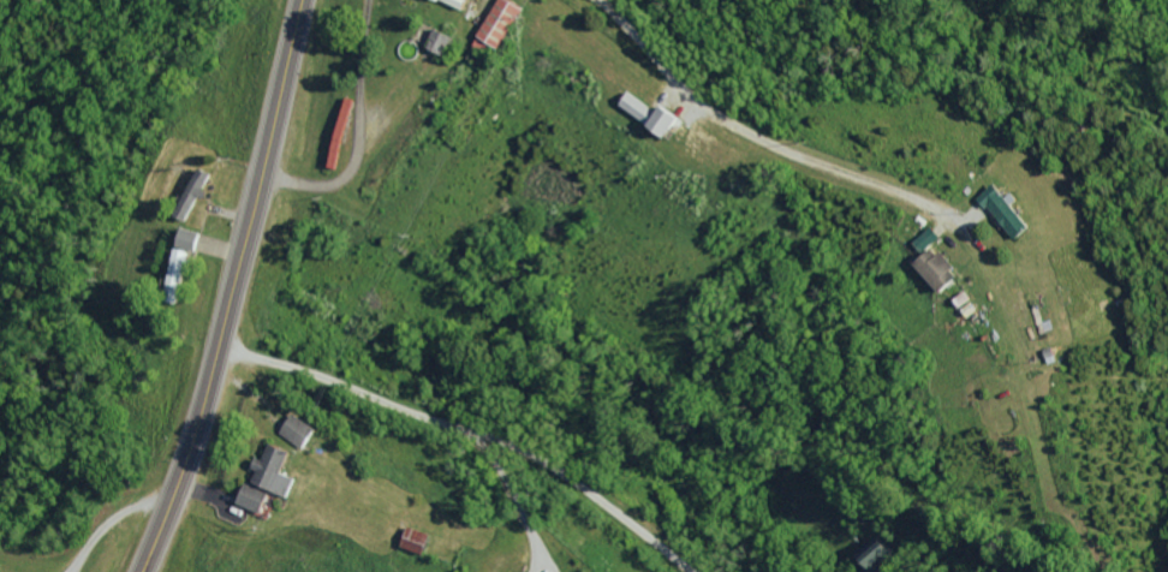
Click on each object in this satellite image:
building: (464, 2)
building: (505, 22)
building: (443, 40)
road: (607, 78)
building: (640, 106)
building: (672, 120)
building: (1011, 210)
building: (192, 238)
building: (928, 238)
building: (180, 264)
building: (938, 268)
road: (234, 288)
building: (300, 430)
road: (471, 431)
building: (278, 470)
building: (257, 499)
road: (519, 500)
road: (111, 519)
building: (423, 540)
building: (875, 553)

